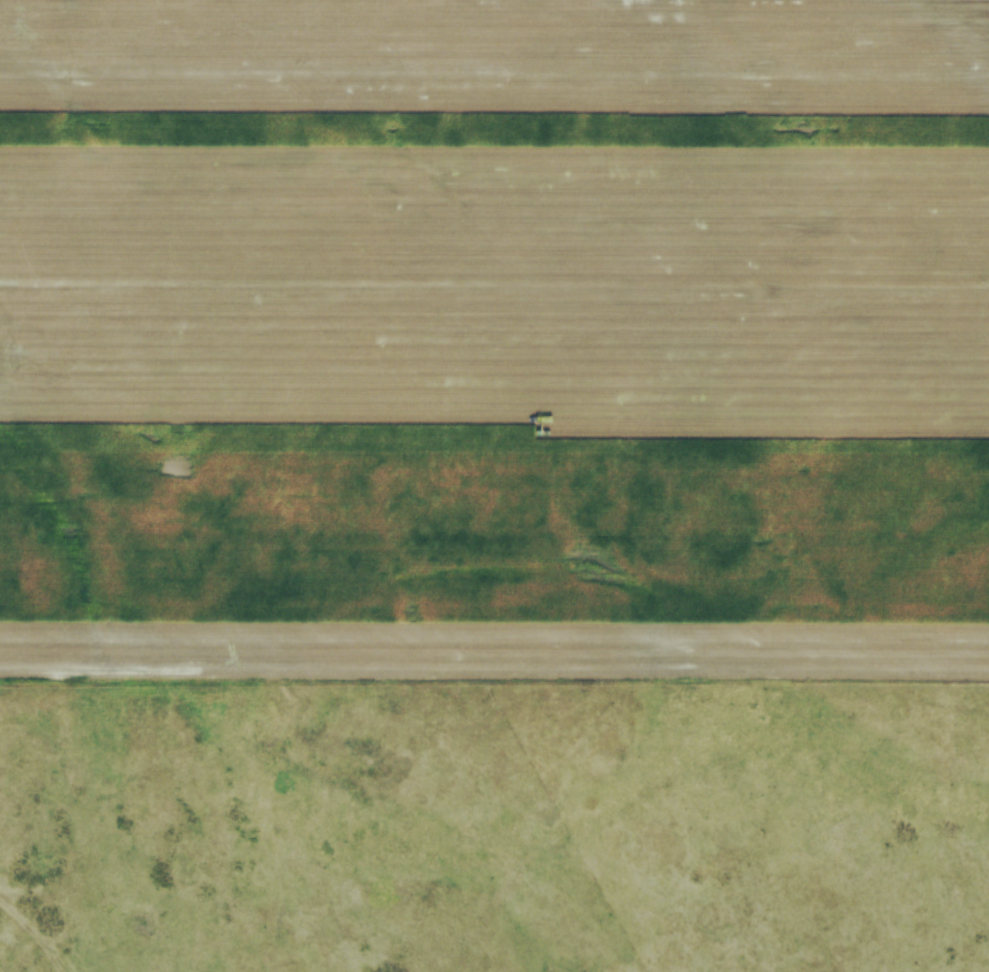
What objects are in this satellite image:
crop: (494, 387)

